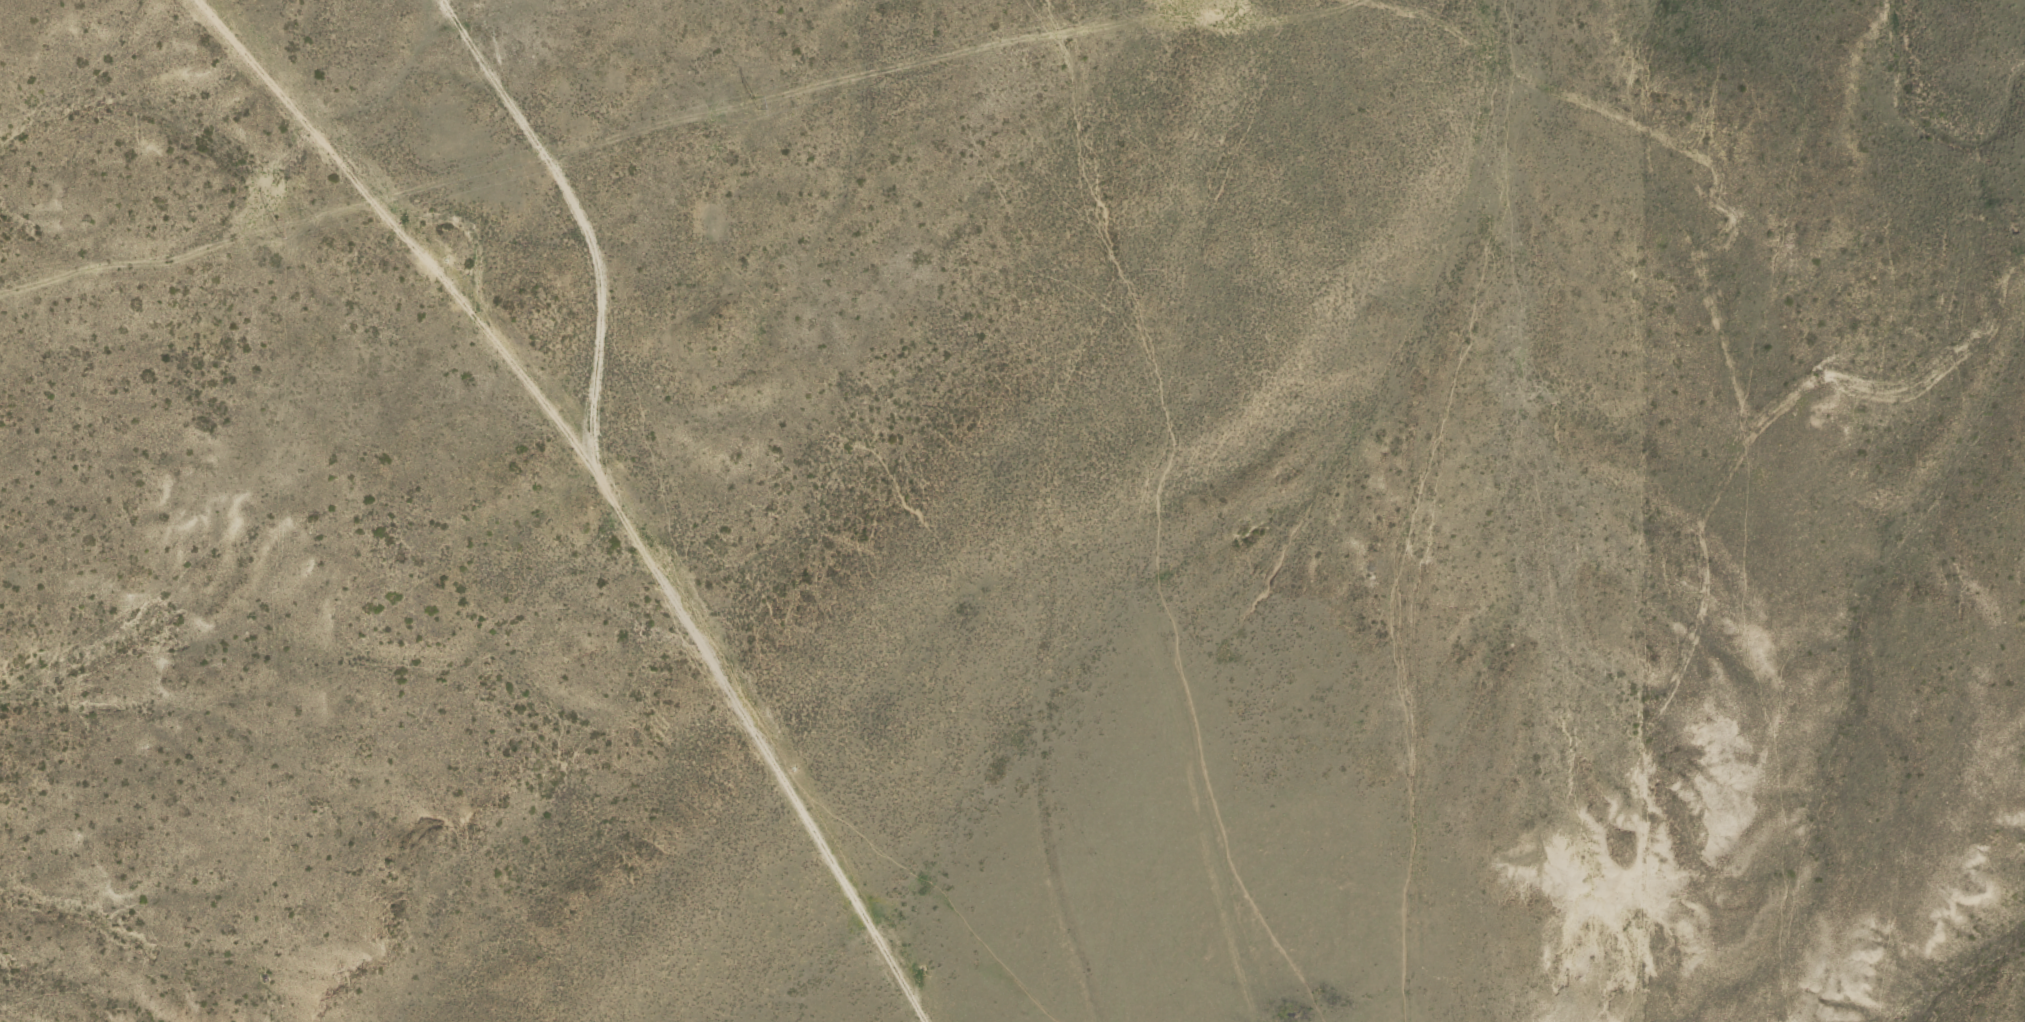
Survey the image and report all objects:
power tower: (756, 103)
power tower: (277, 226)

